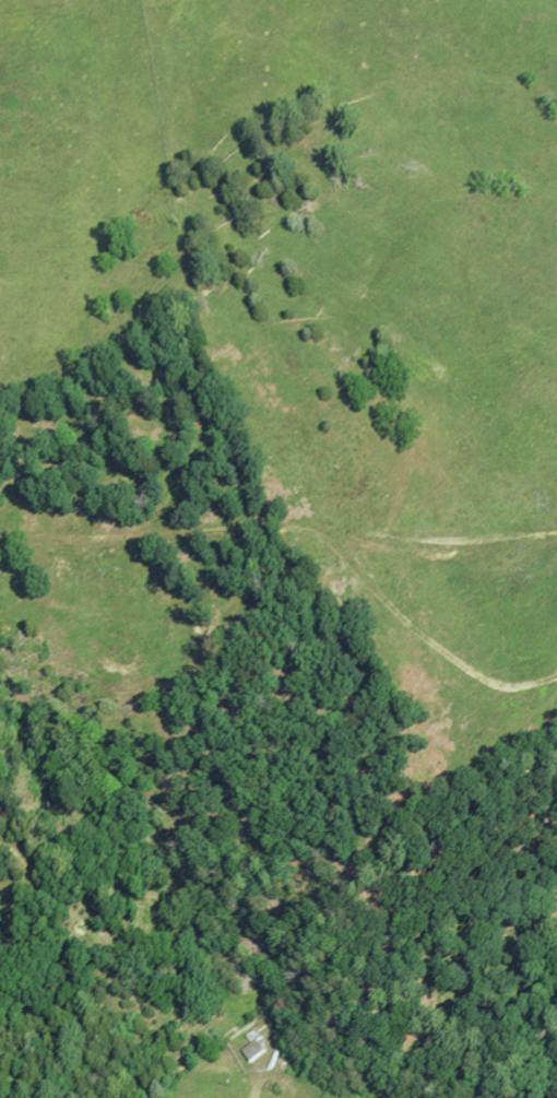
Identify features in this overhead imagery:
building: (252, 1046)
road: (256, 1094)

